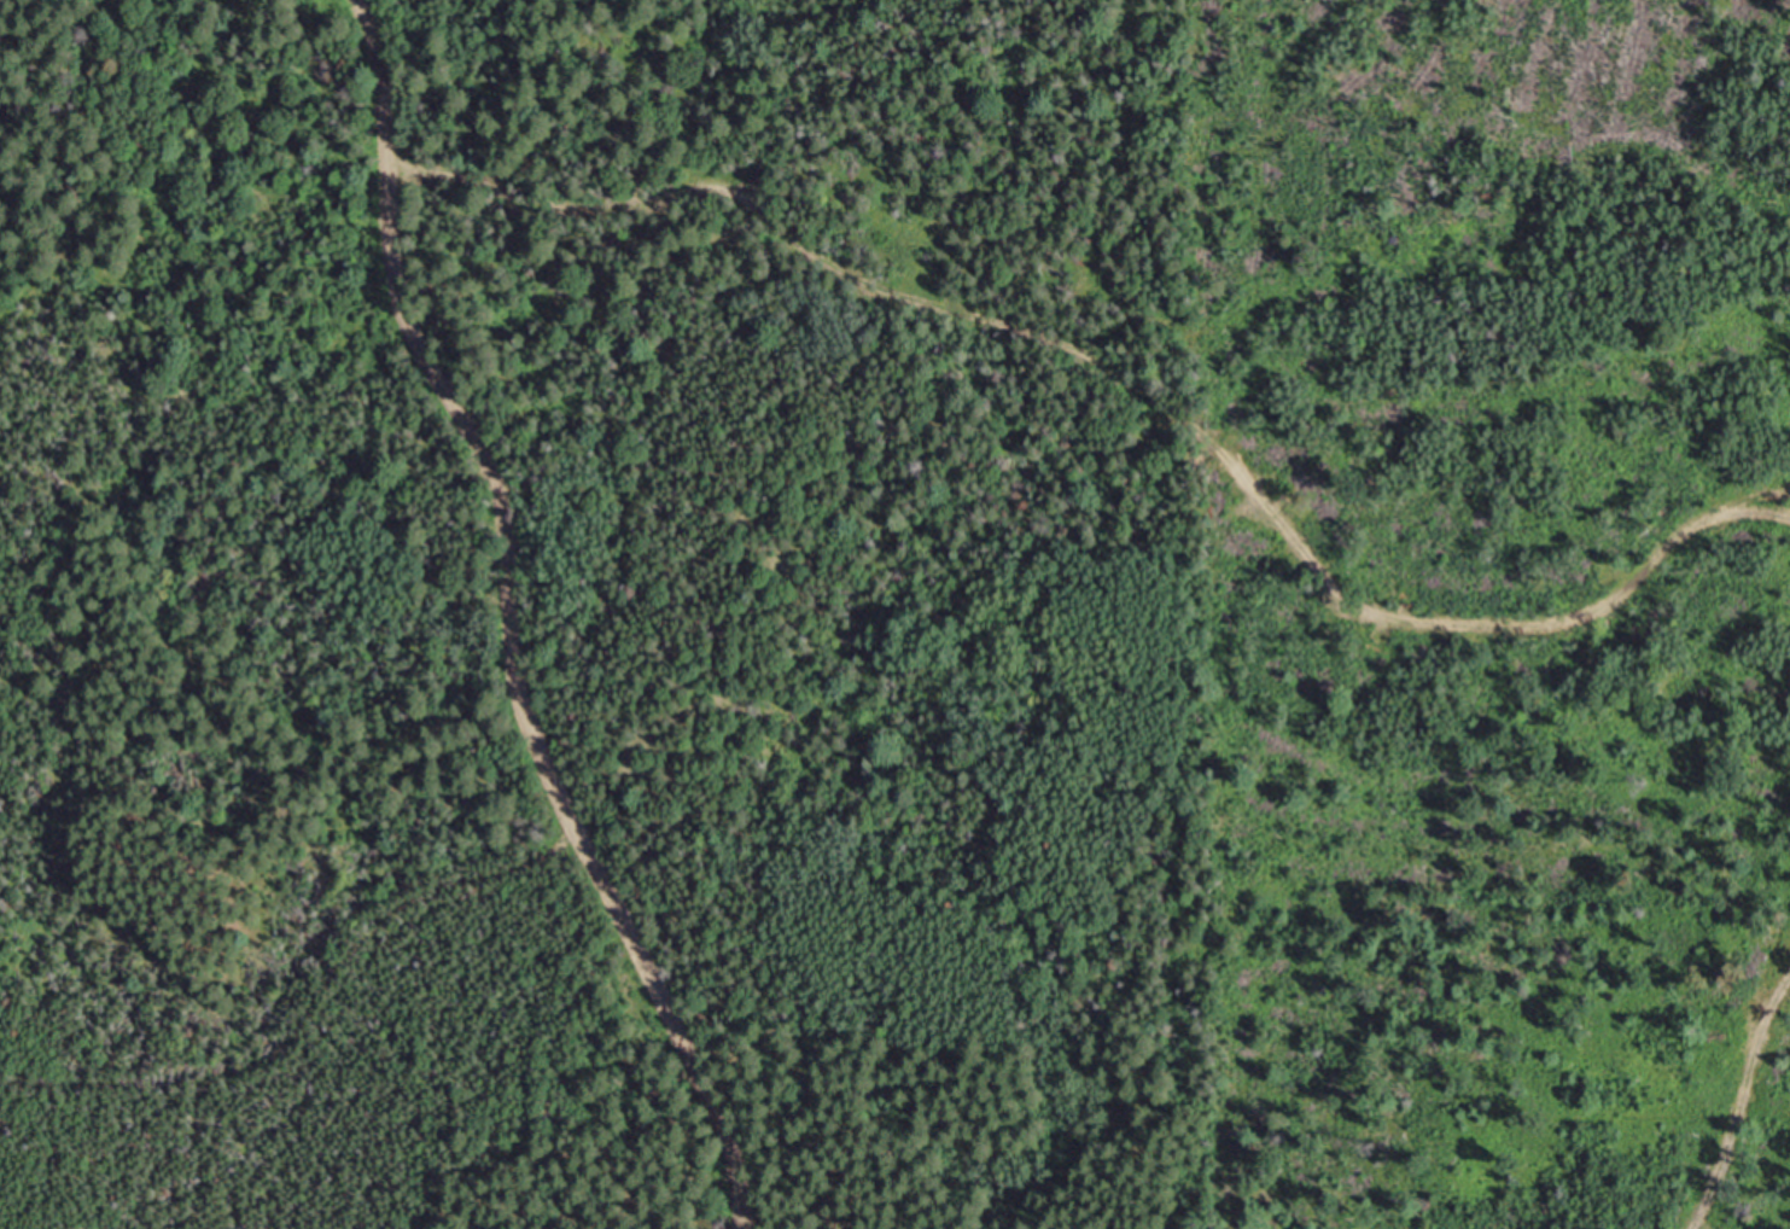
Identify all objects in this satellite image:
road: (511, 623)

